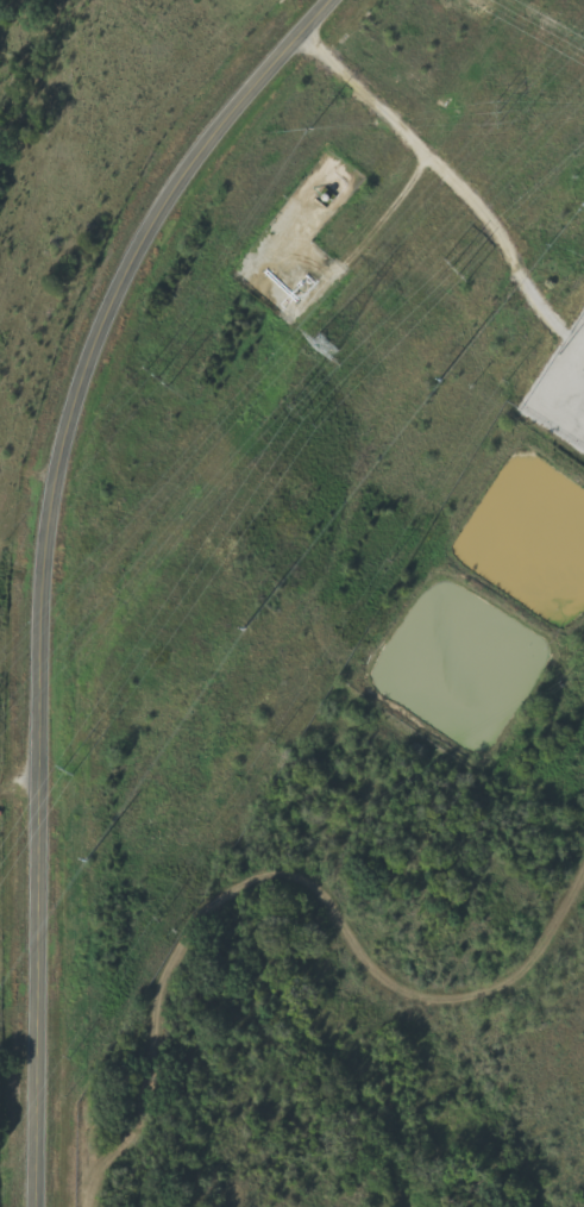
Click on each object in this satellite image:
power tower: (498, 111)
power tower: (312, 129)
power tower: (464, 271)
power tower: (327, 346)
power tower: (161, 376)
power tower: (439, 377)
power substation: (561, 387)
power tower: (312, 421)
road: (40, 561)
power tower: (244, 628)
power tower: (70, 771)
power tower: (88, 858)

